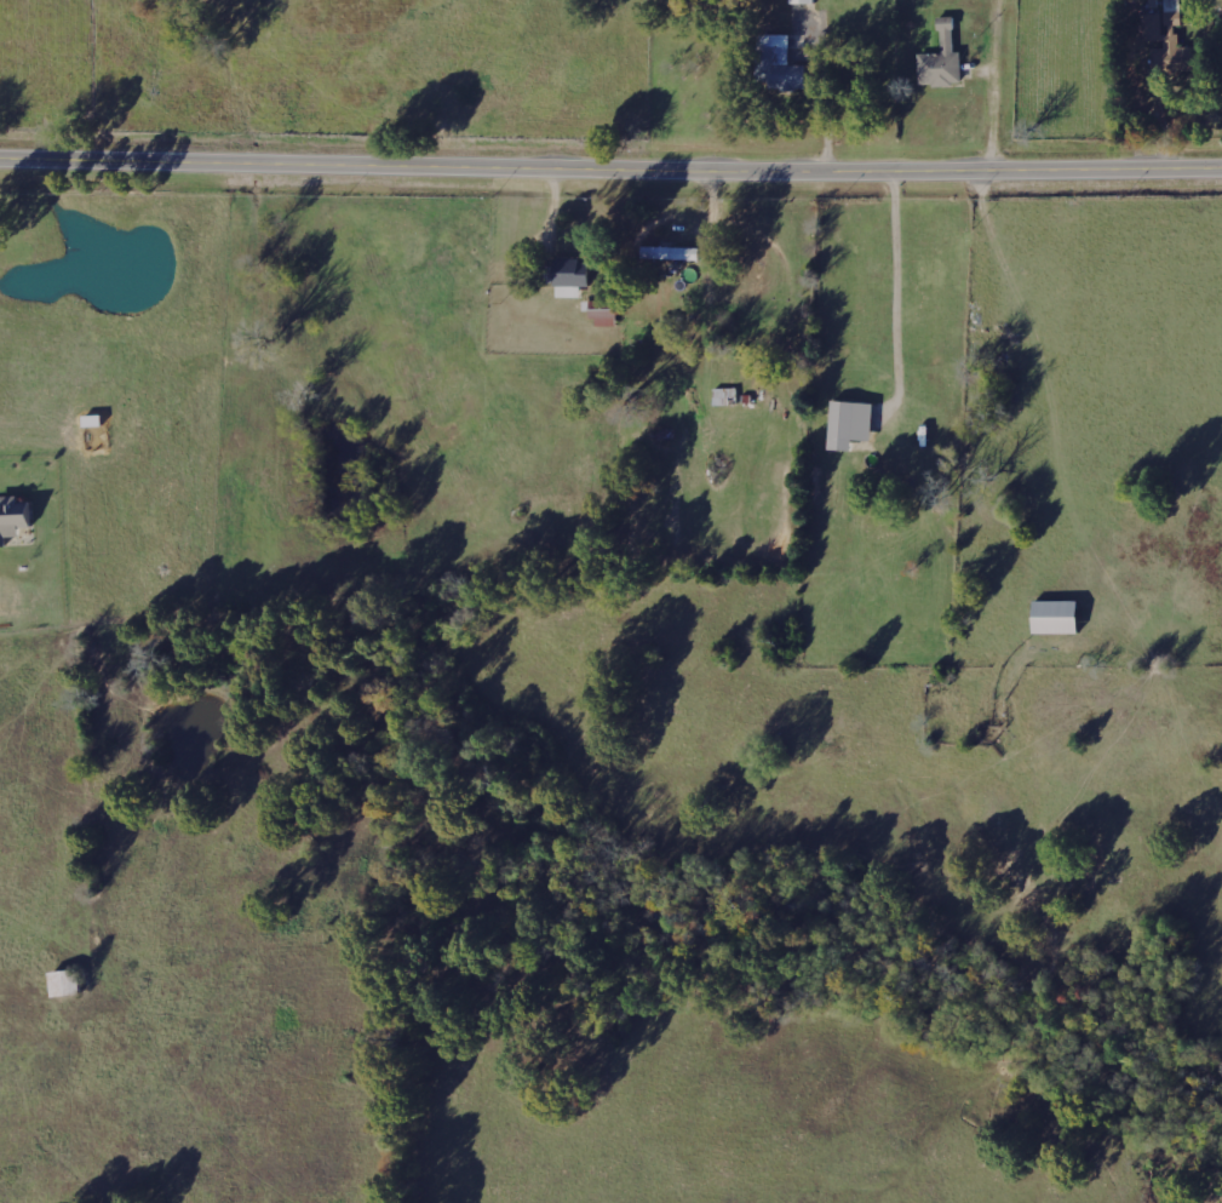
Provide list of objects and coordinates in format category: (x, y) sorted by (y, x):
building: (802, 0)
building: (1165, 30)
building: (940, 58)
building: (776, 62)
road: (992, 96)
road: (610, 167)
building: (669, 252)
building: (563, 280)
building: (839, 418)
building: (17, 516)
building: (1051, 615)

